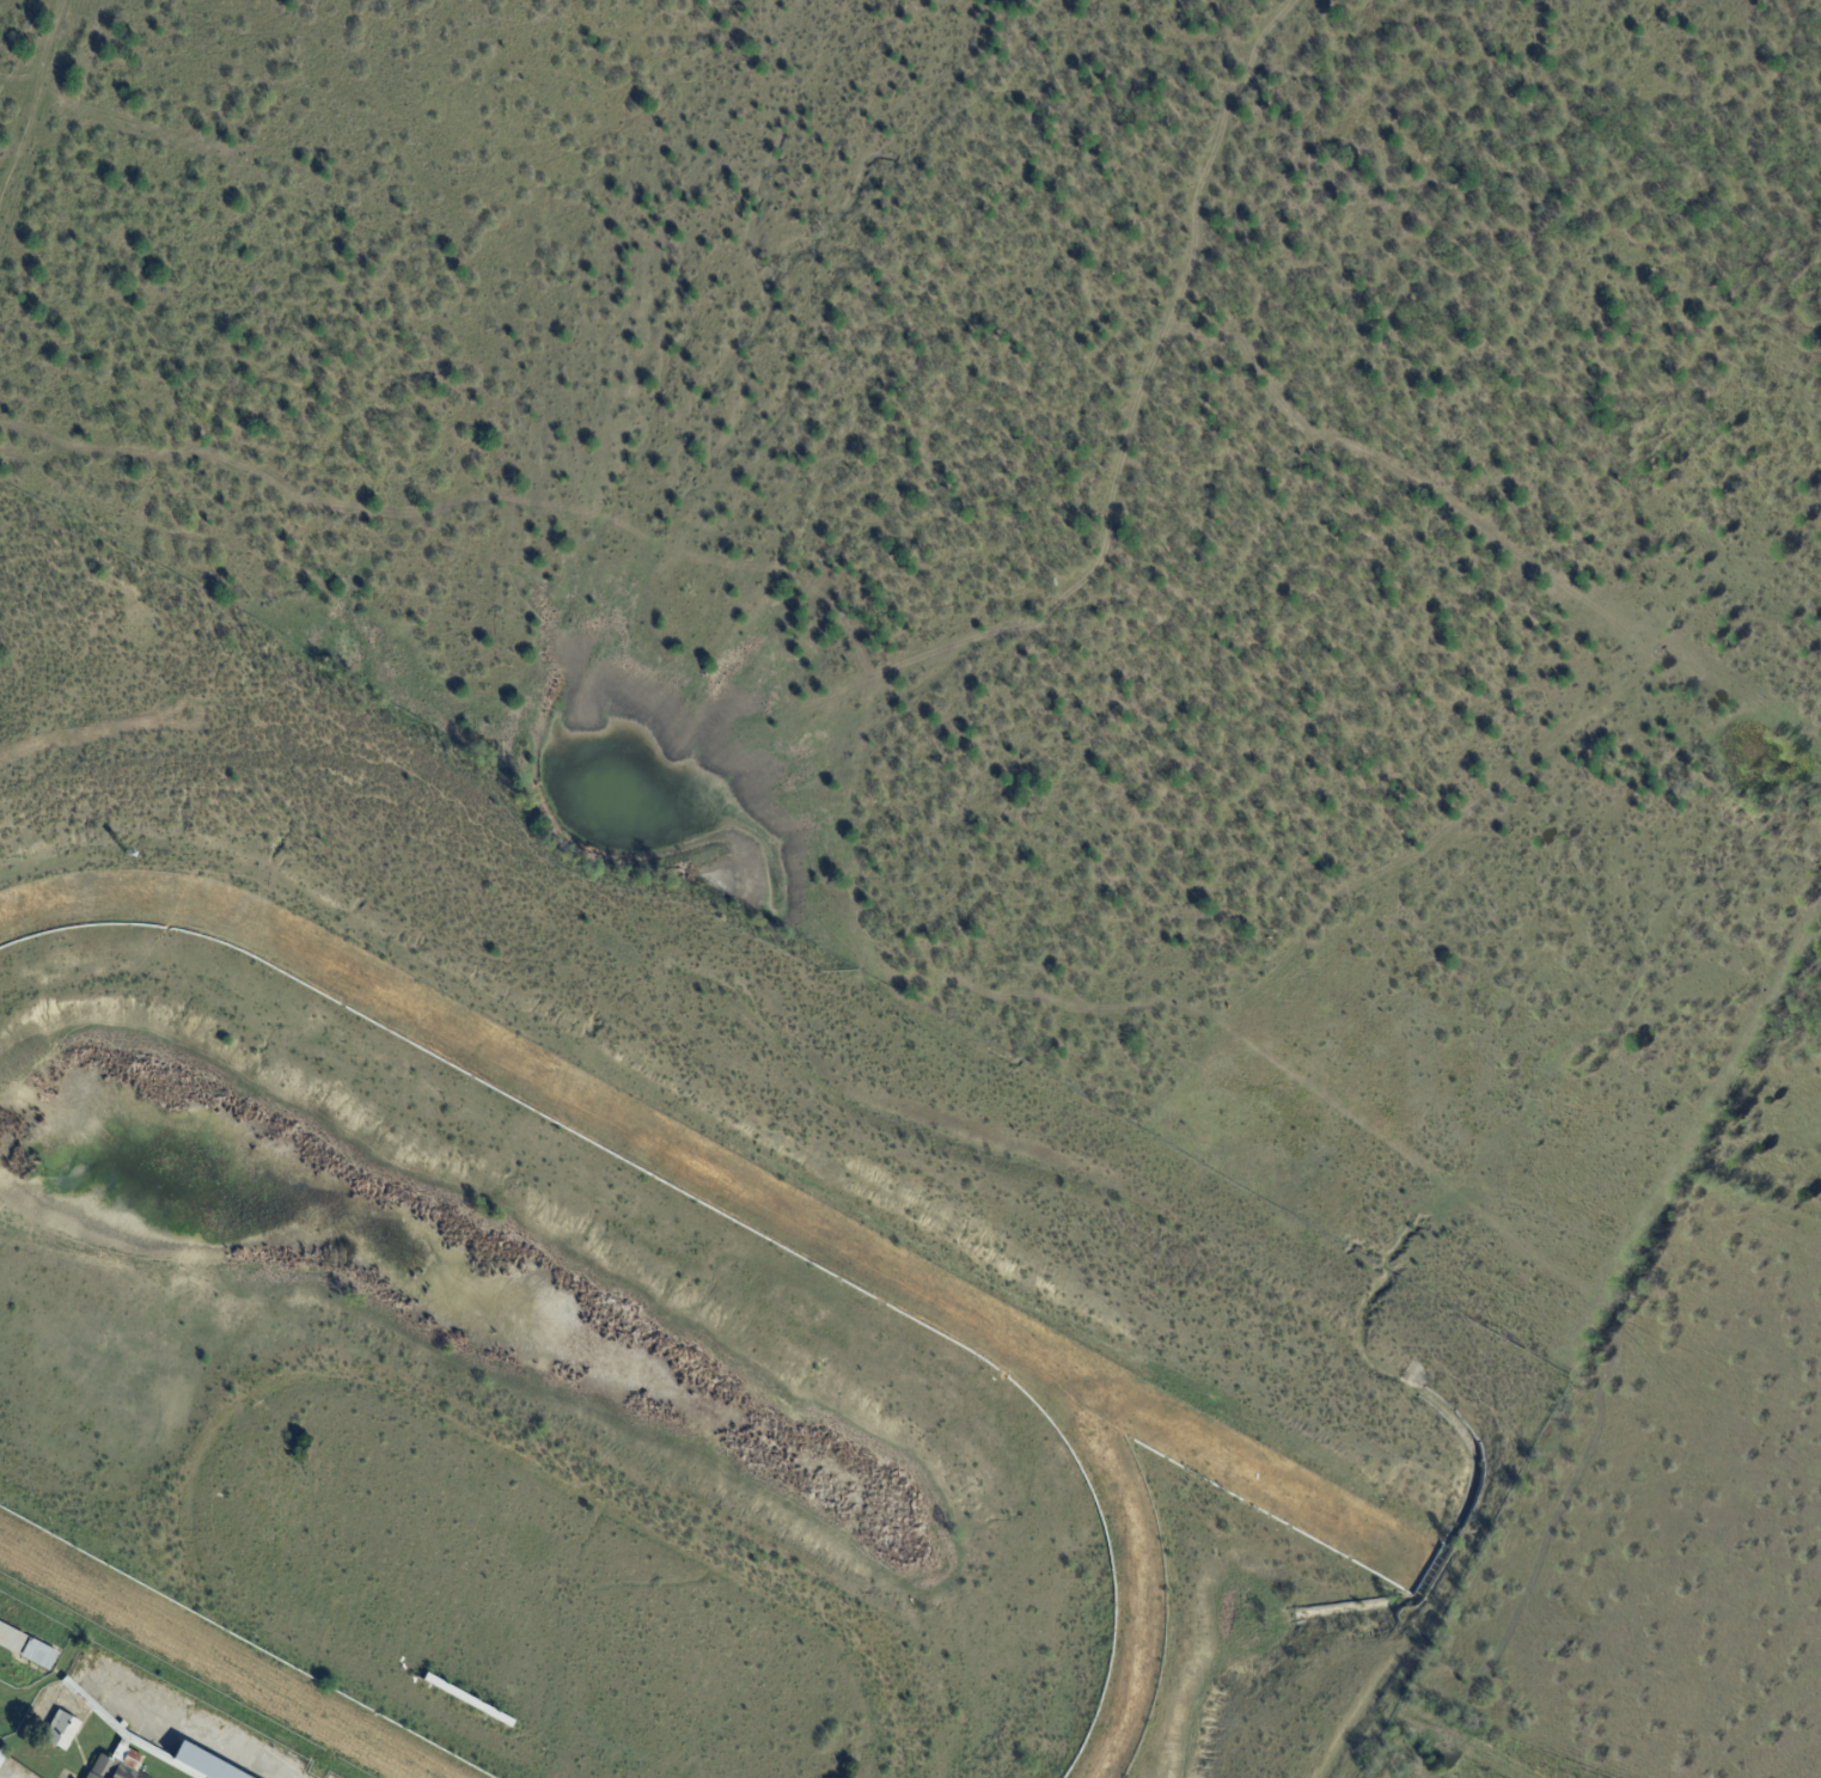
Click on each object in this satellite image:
track: (722, 1180)
track: (1144, 1571)
building: (12, 1639)
building: (41, 1655)
track: (216, 1657)
building: (466, 1700)
building: (63, 1731)
building: (148, 1752)
building: (1, 1755)

